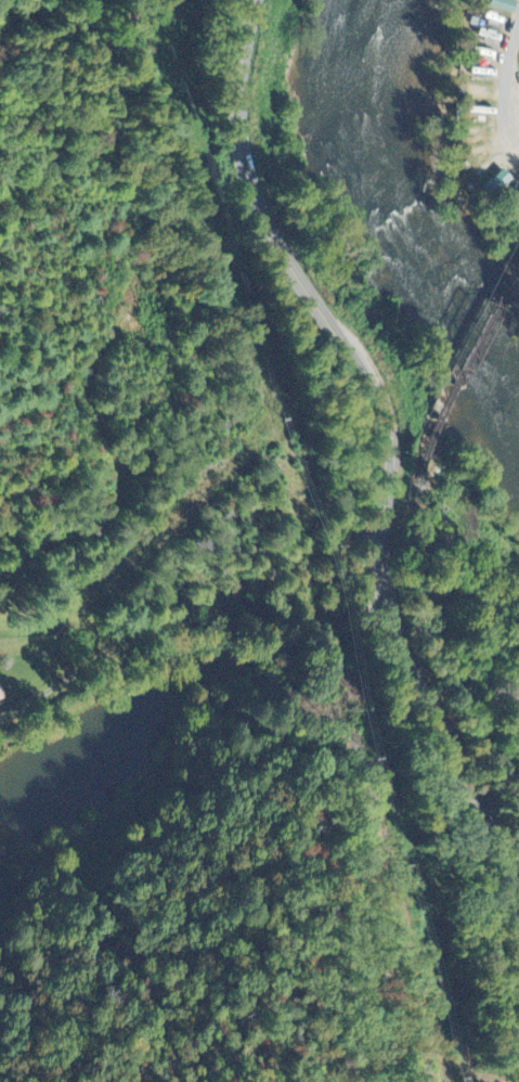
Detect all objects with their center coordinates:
building: (508, 5)
river: (423, 192)
road: (286, 260)
railway: (481, 323)
railway: (424, 609)
building: (0, 694)
road: (426, 701)
building: (0, 858)

